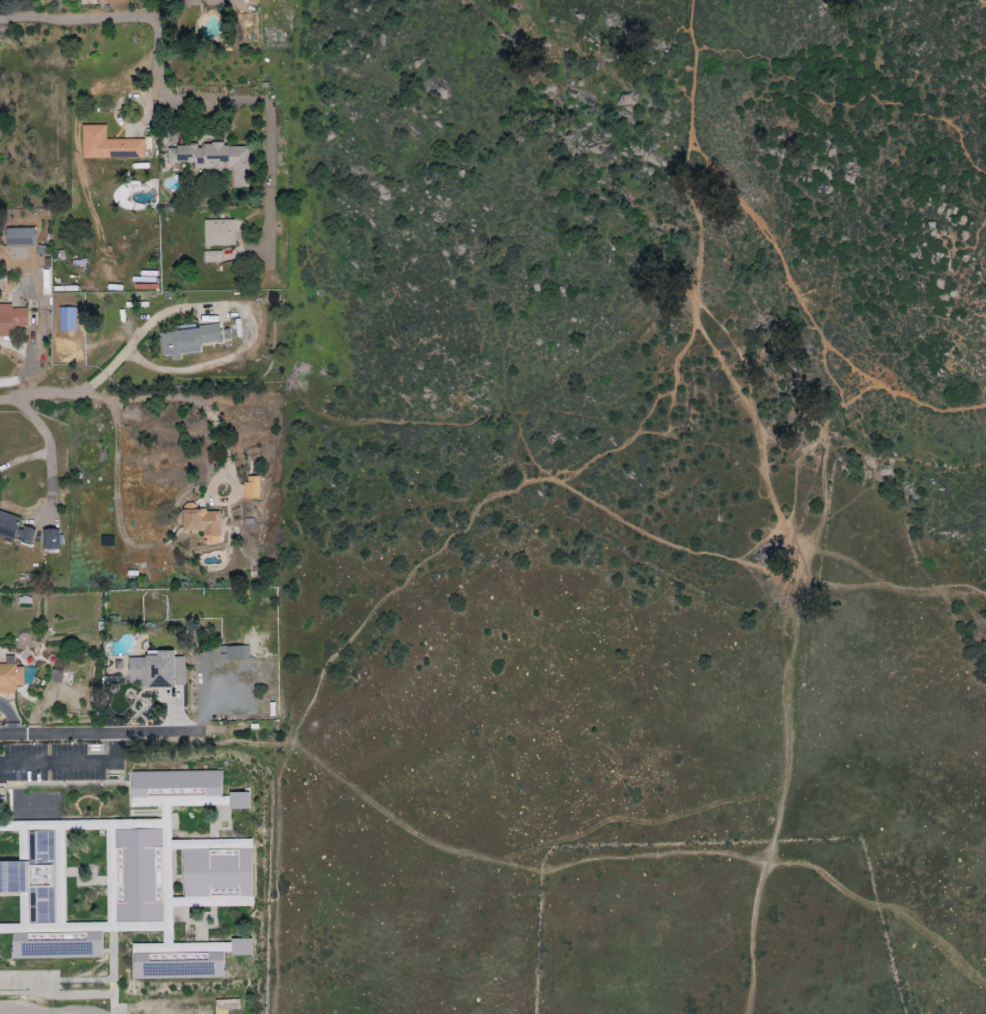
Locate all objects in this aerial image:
building: (113, 0)
road: (180, 109)
building: (108, 145)
building: (213, 159)
building: (219, 233)
building: (19, 237)
building: (212, 256)
building: (11, 319)
building: (67, 319)
building: (187, 340)
road: (131, 344)
road: (28, 361)
road: (141, 400)
road: (43, 455)
building: (251, 488)
road: (771, 501)
building: (202, 524)
building: (14, 529)
building: (50, 540)
road: (887, 596)
road: (395, 598)
building: (234, 653)
building: (156, 671)
building: (10, 678)
road: (91, 734)
road: (70, 762)
parking lot: (61, 764)
building: (238, 801)
building: (219, 872)
building: (138, 876)
building: (41, 920)
building: (240, 947)

